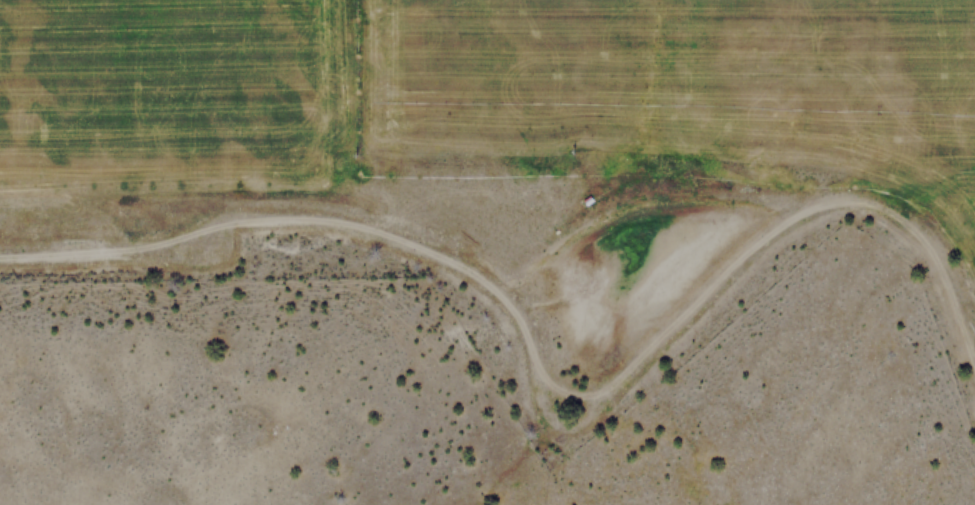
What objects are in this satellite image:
crop: (506, 114)

